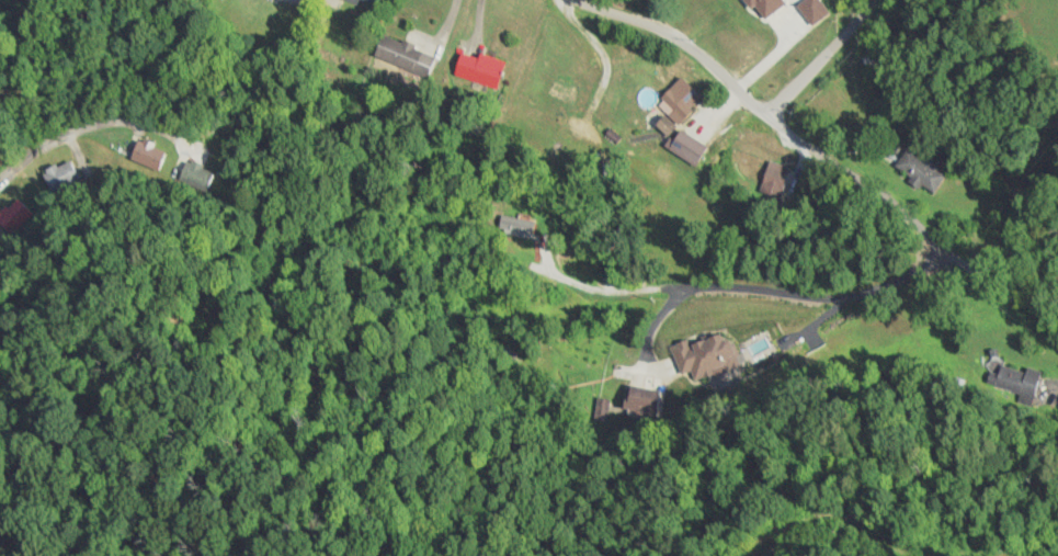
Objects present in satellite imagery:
building: (371, 1)
road: (592, 2)
building: (402, 56)
road: (821, 58)
building: (871, 58)
building: (479, 70)
building: (678, 101)
road: (72, 134)
building: (681, 144)
road: (820, 157)
building: (920, 171)
building: (774, 179)
building: (16, 215)
building: (759, 347)
building: (703, 354)
building: (1017, 379)

